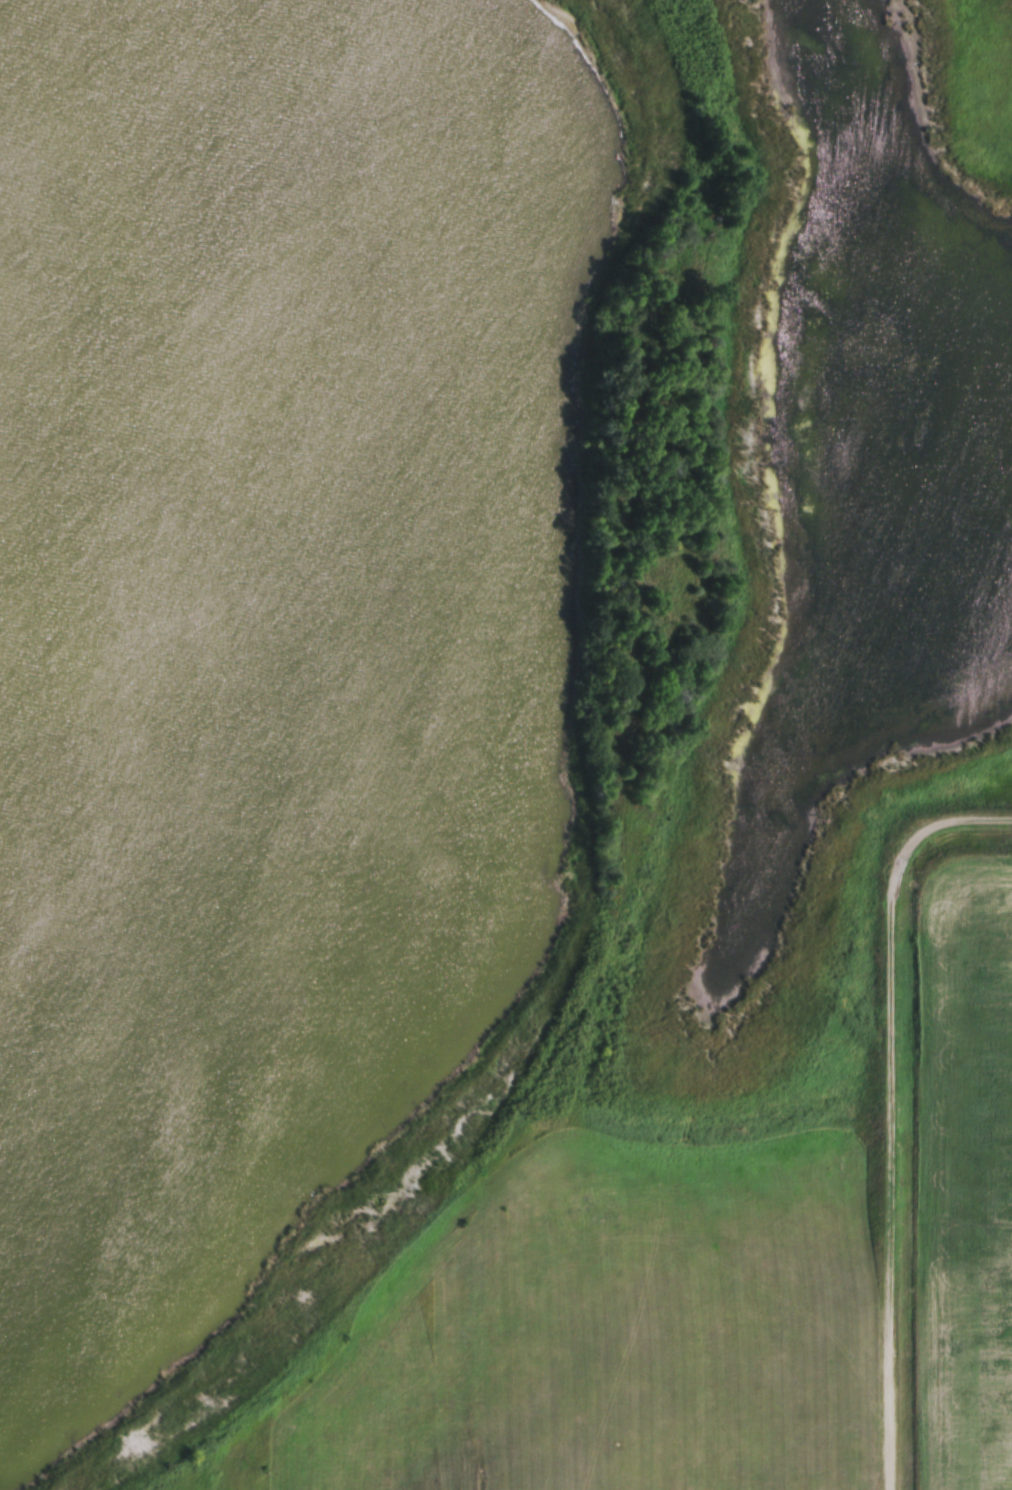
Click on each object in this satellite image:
road: (981, 812)
power tower: (642, 838)
road: (891, 1139)
power tower: (436, 1175)
power tower: (266, 1466)

